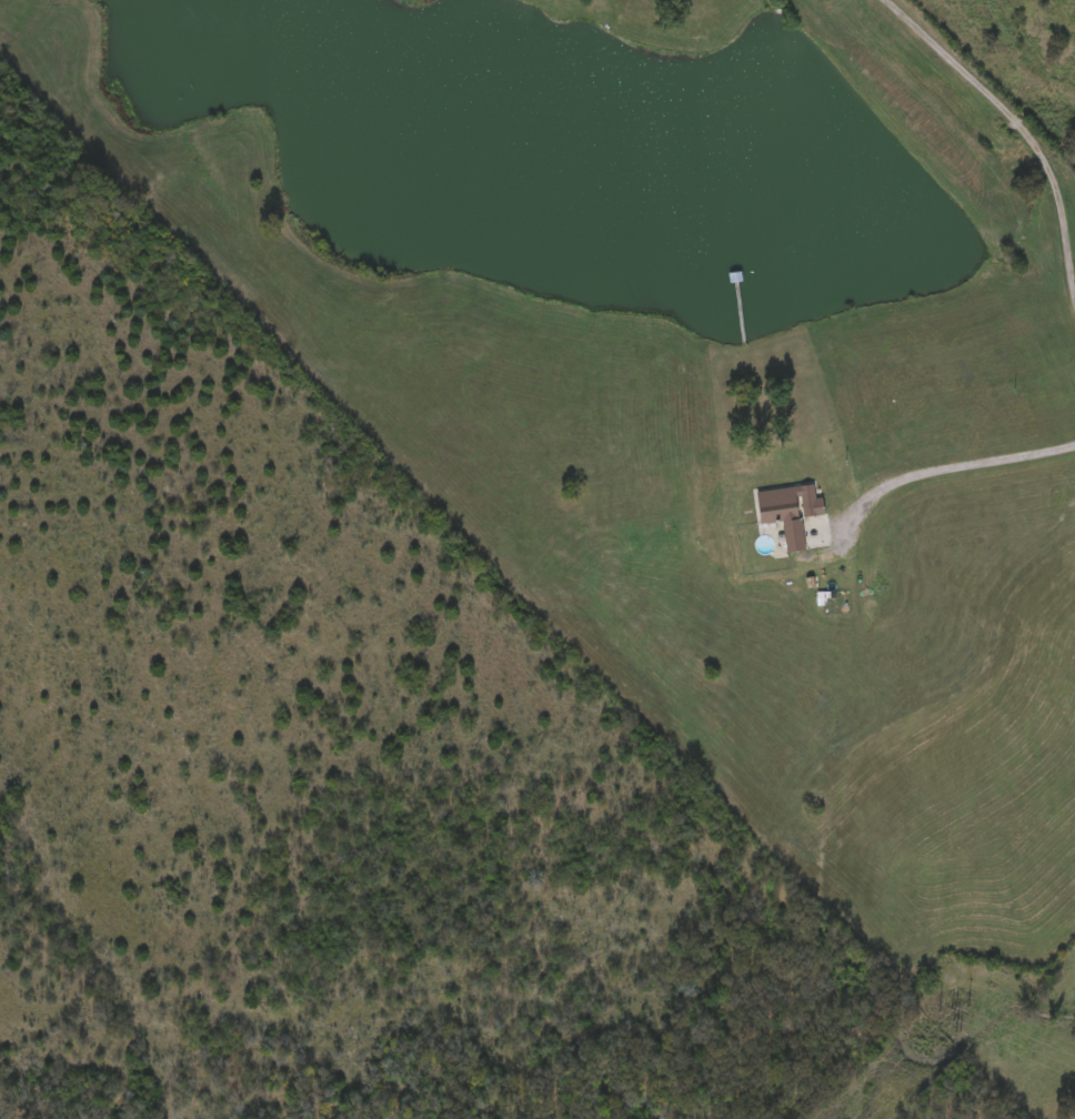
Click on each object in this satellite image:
road: (1025, 128)
pier: (739, 311)
building: (760, 464)
road: (852, 508)
power tower: (956, 1031)

